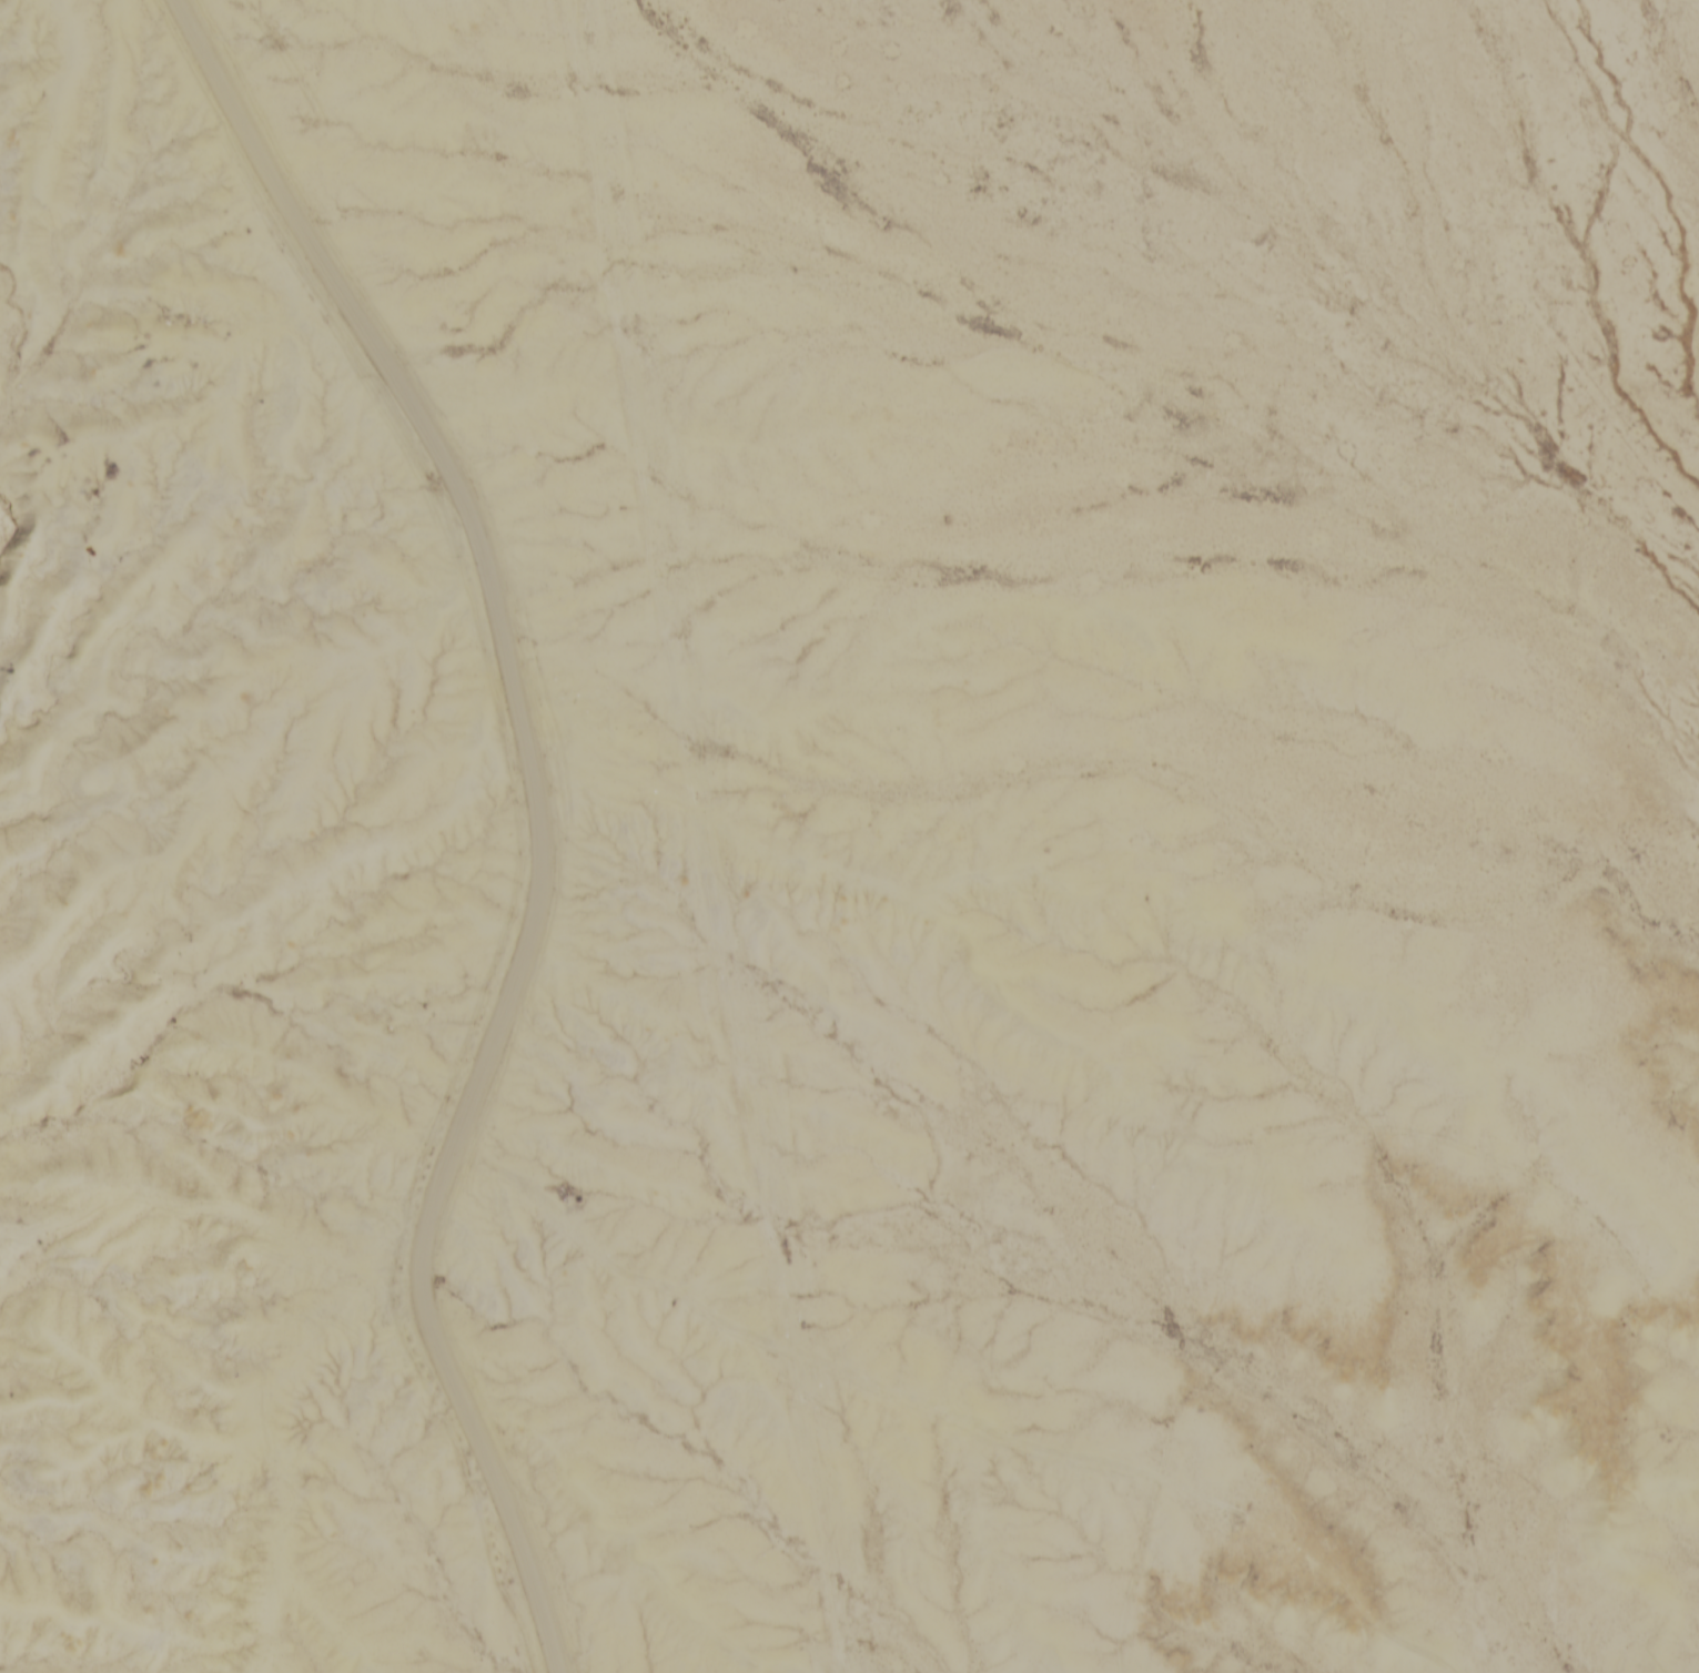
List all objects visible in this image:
road: (546, 814)
road: (1228, 1601)

